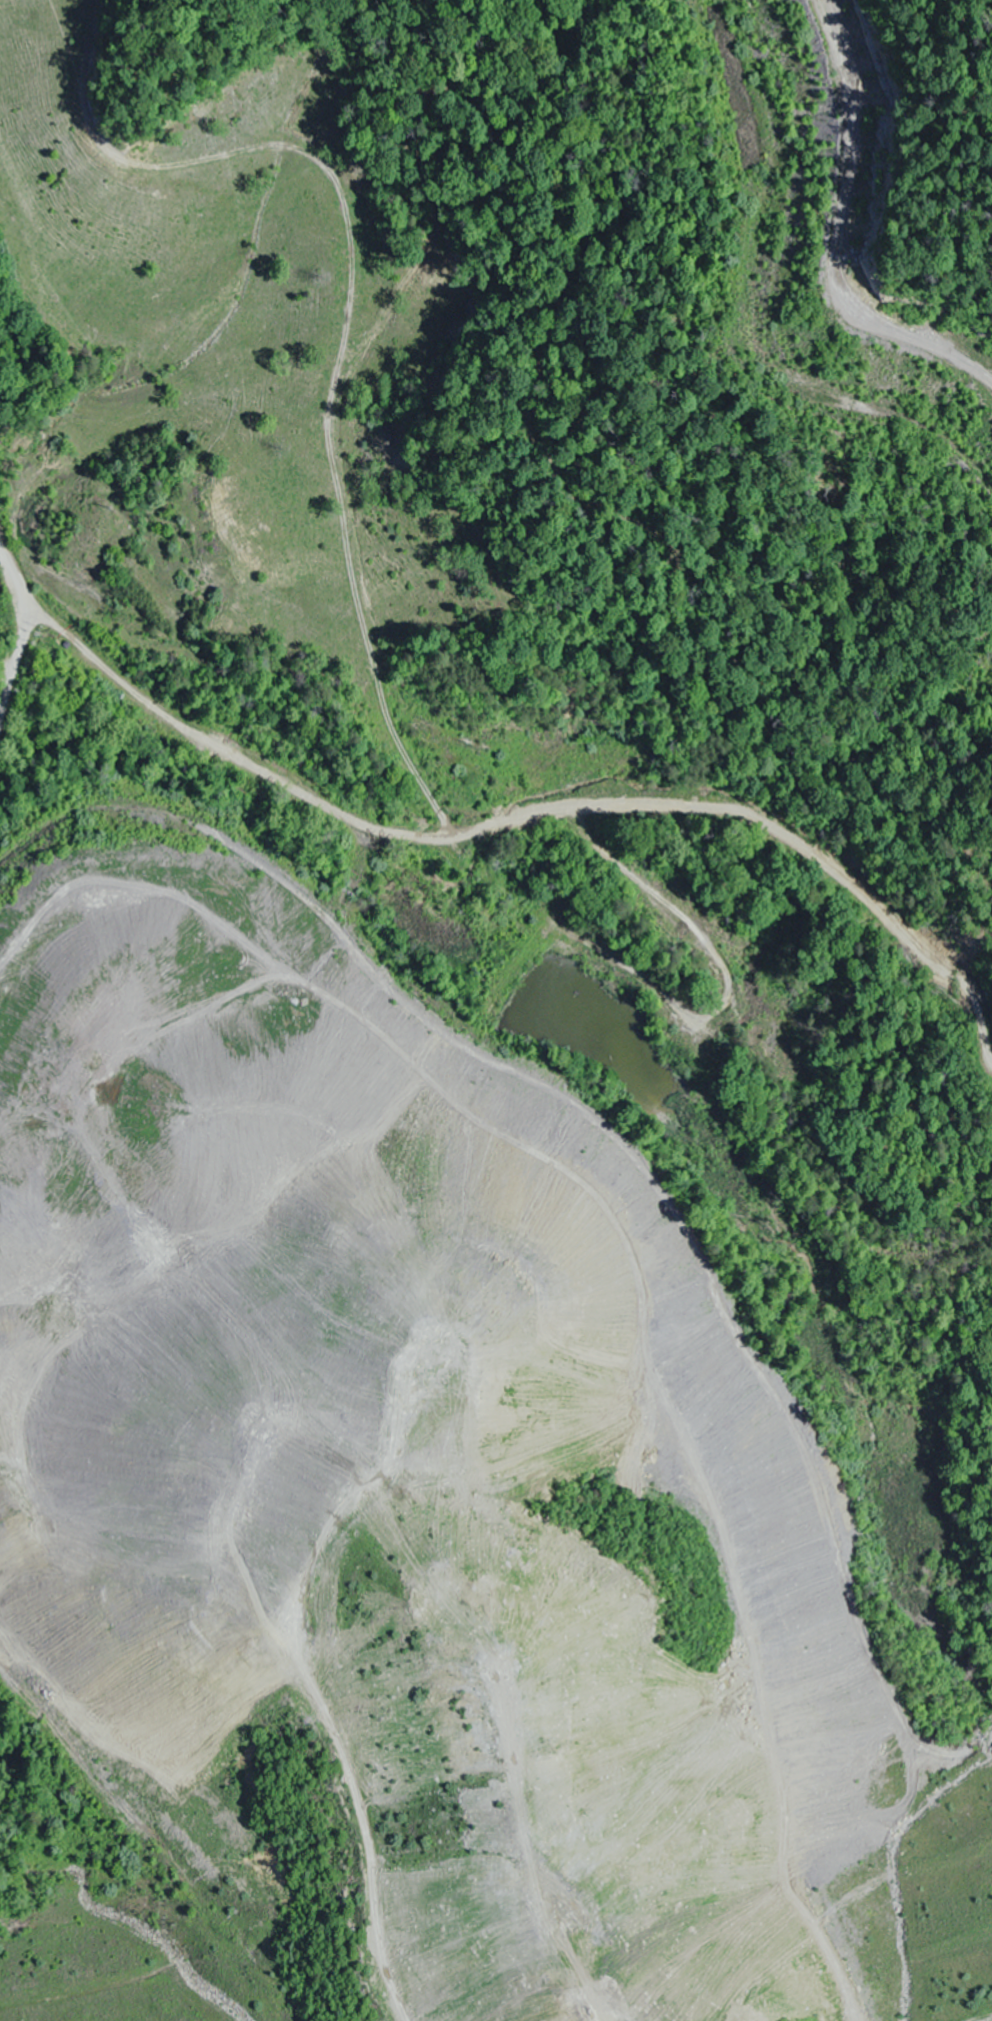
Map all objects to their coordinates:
road: (14, 591)
road: (17, 666)
road: (248, 759)

